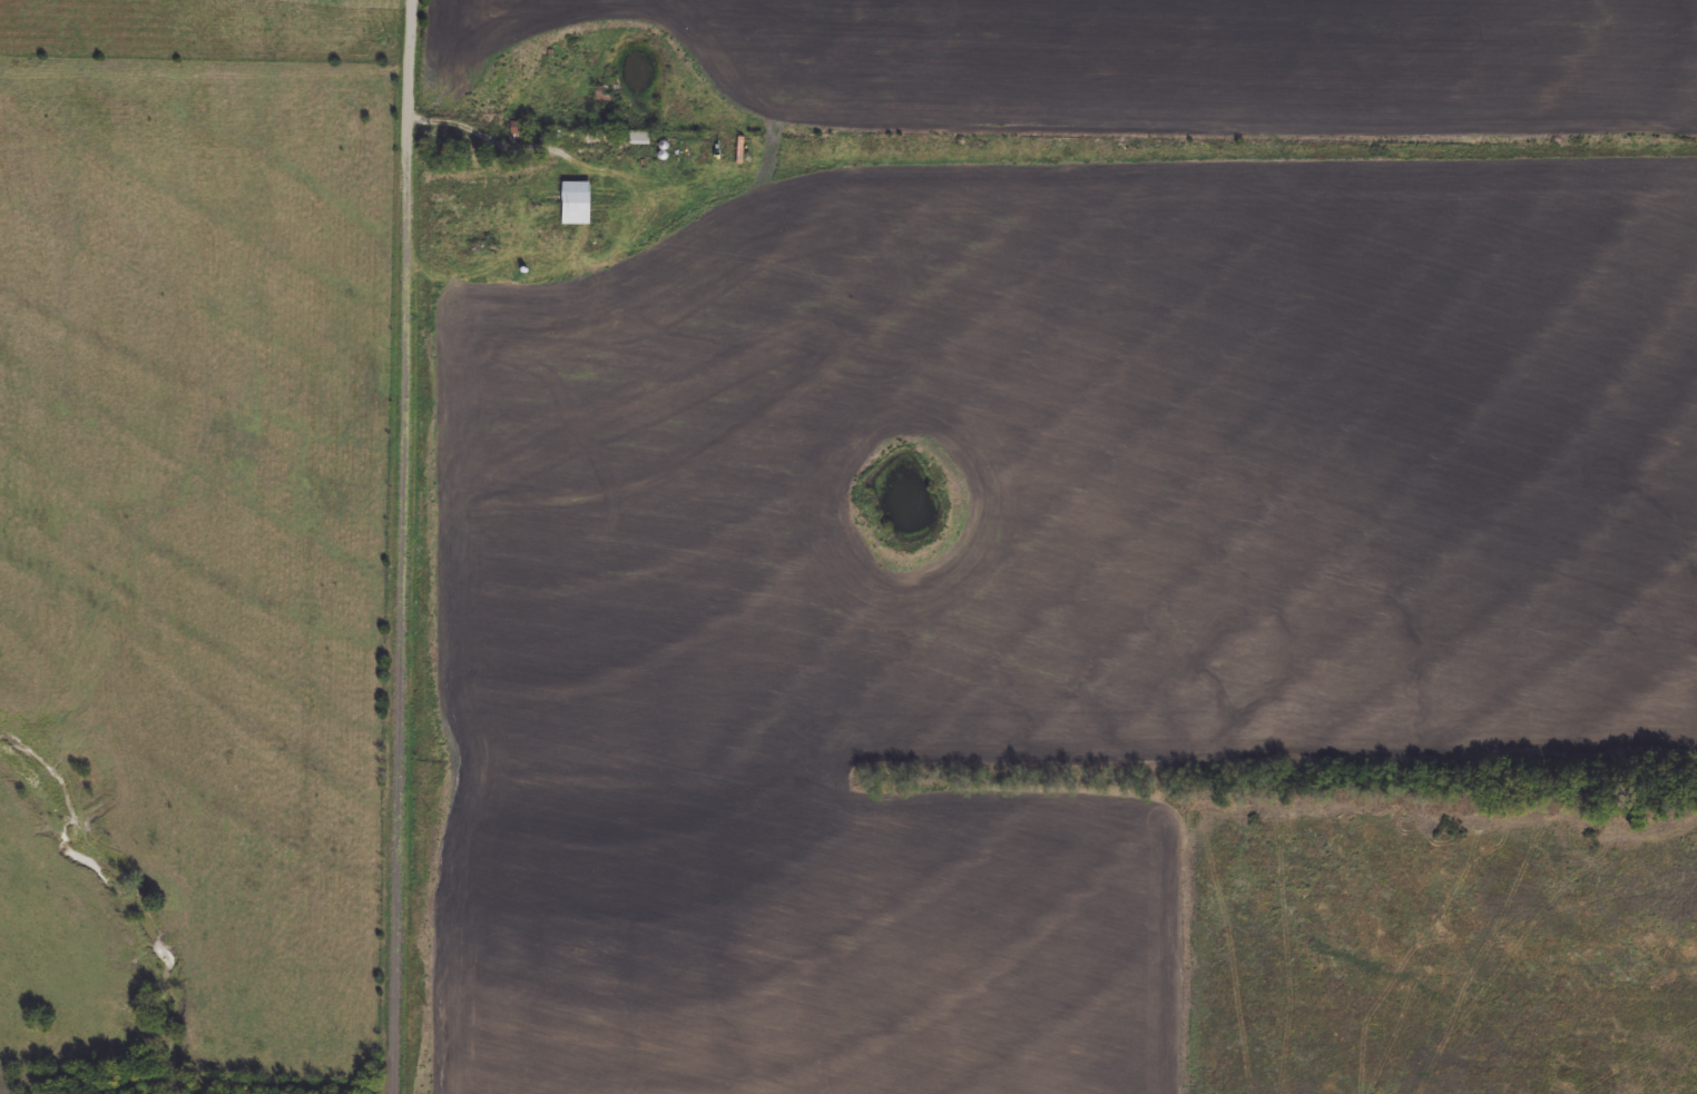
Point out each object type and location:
building: (607, 98)
building: (641, 138)
building: (577, 194)
road: (405, 546)

